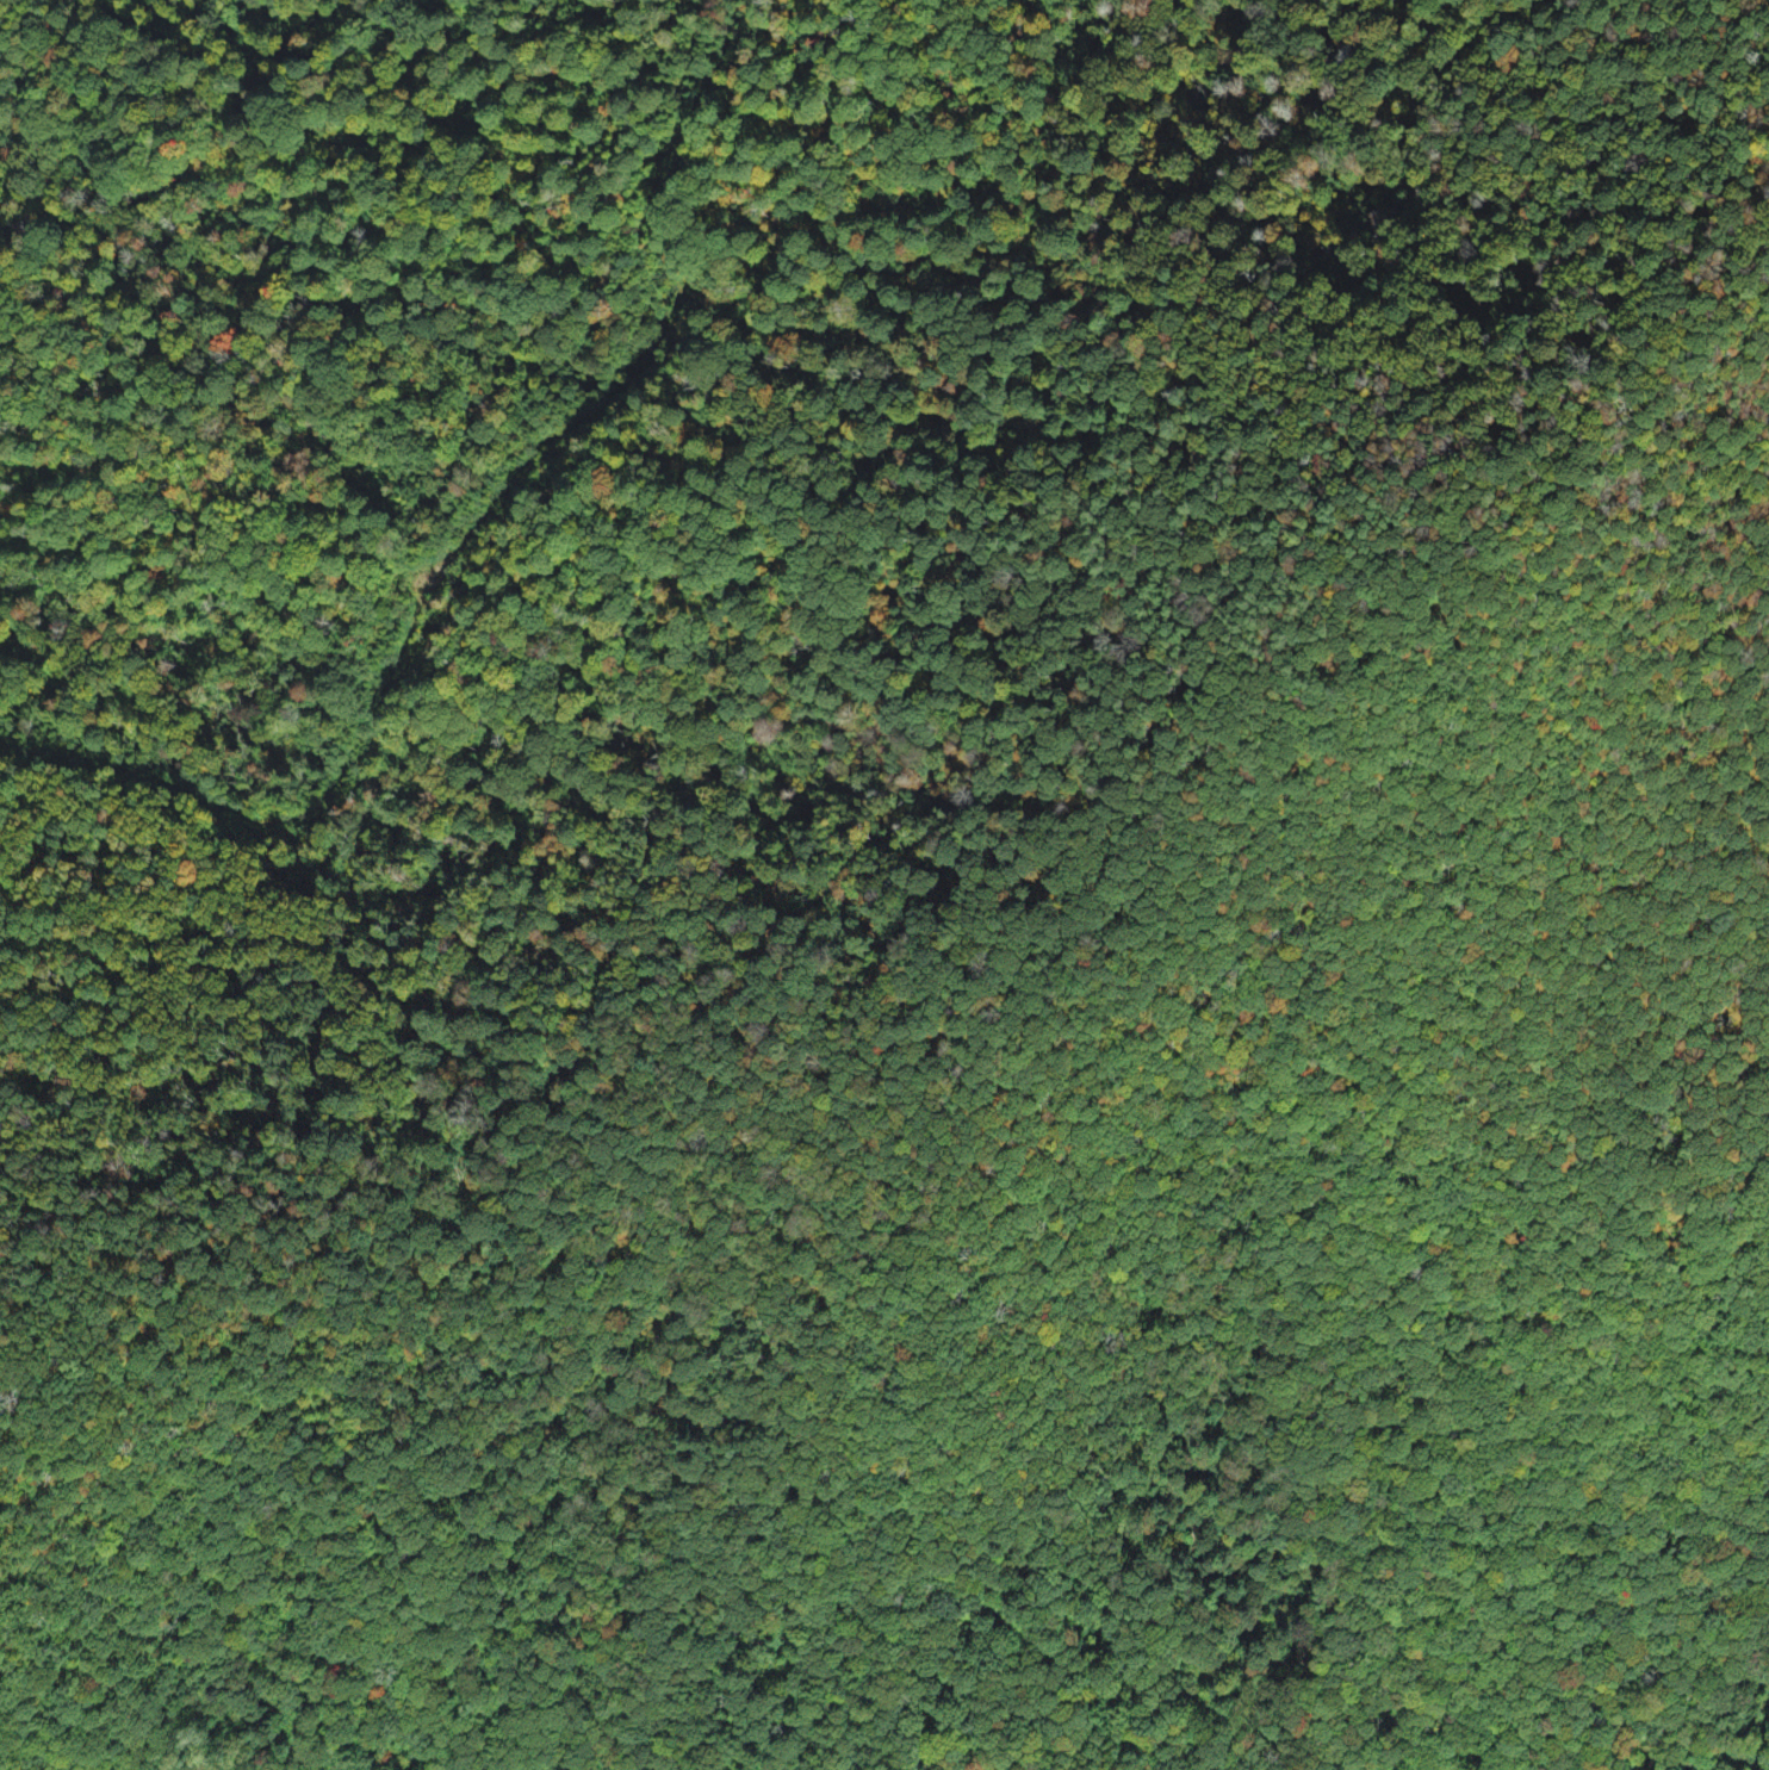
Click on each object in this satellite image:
road: (1639, 1732)

